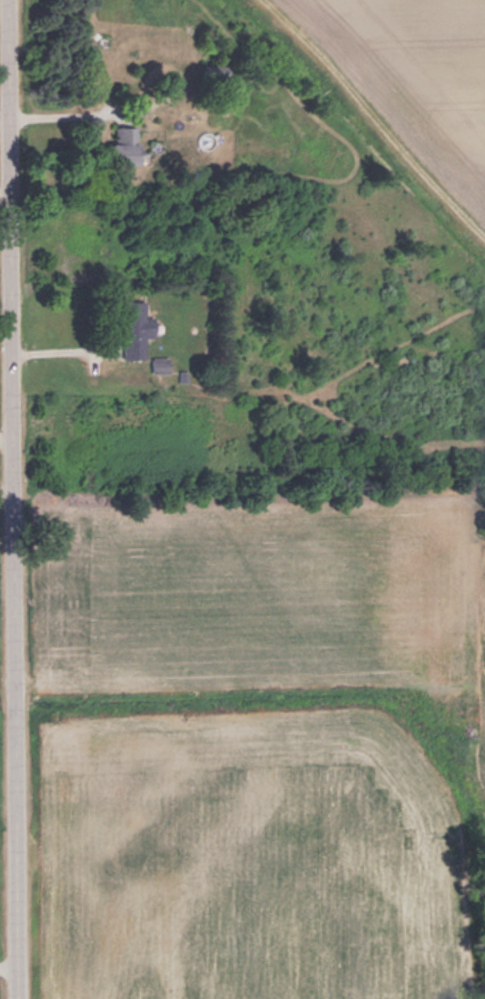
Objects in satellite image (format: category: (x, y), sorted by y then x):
building: (127, 144)
building: (138, 328)
road: (9, 499)

